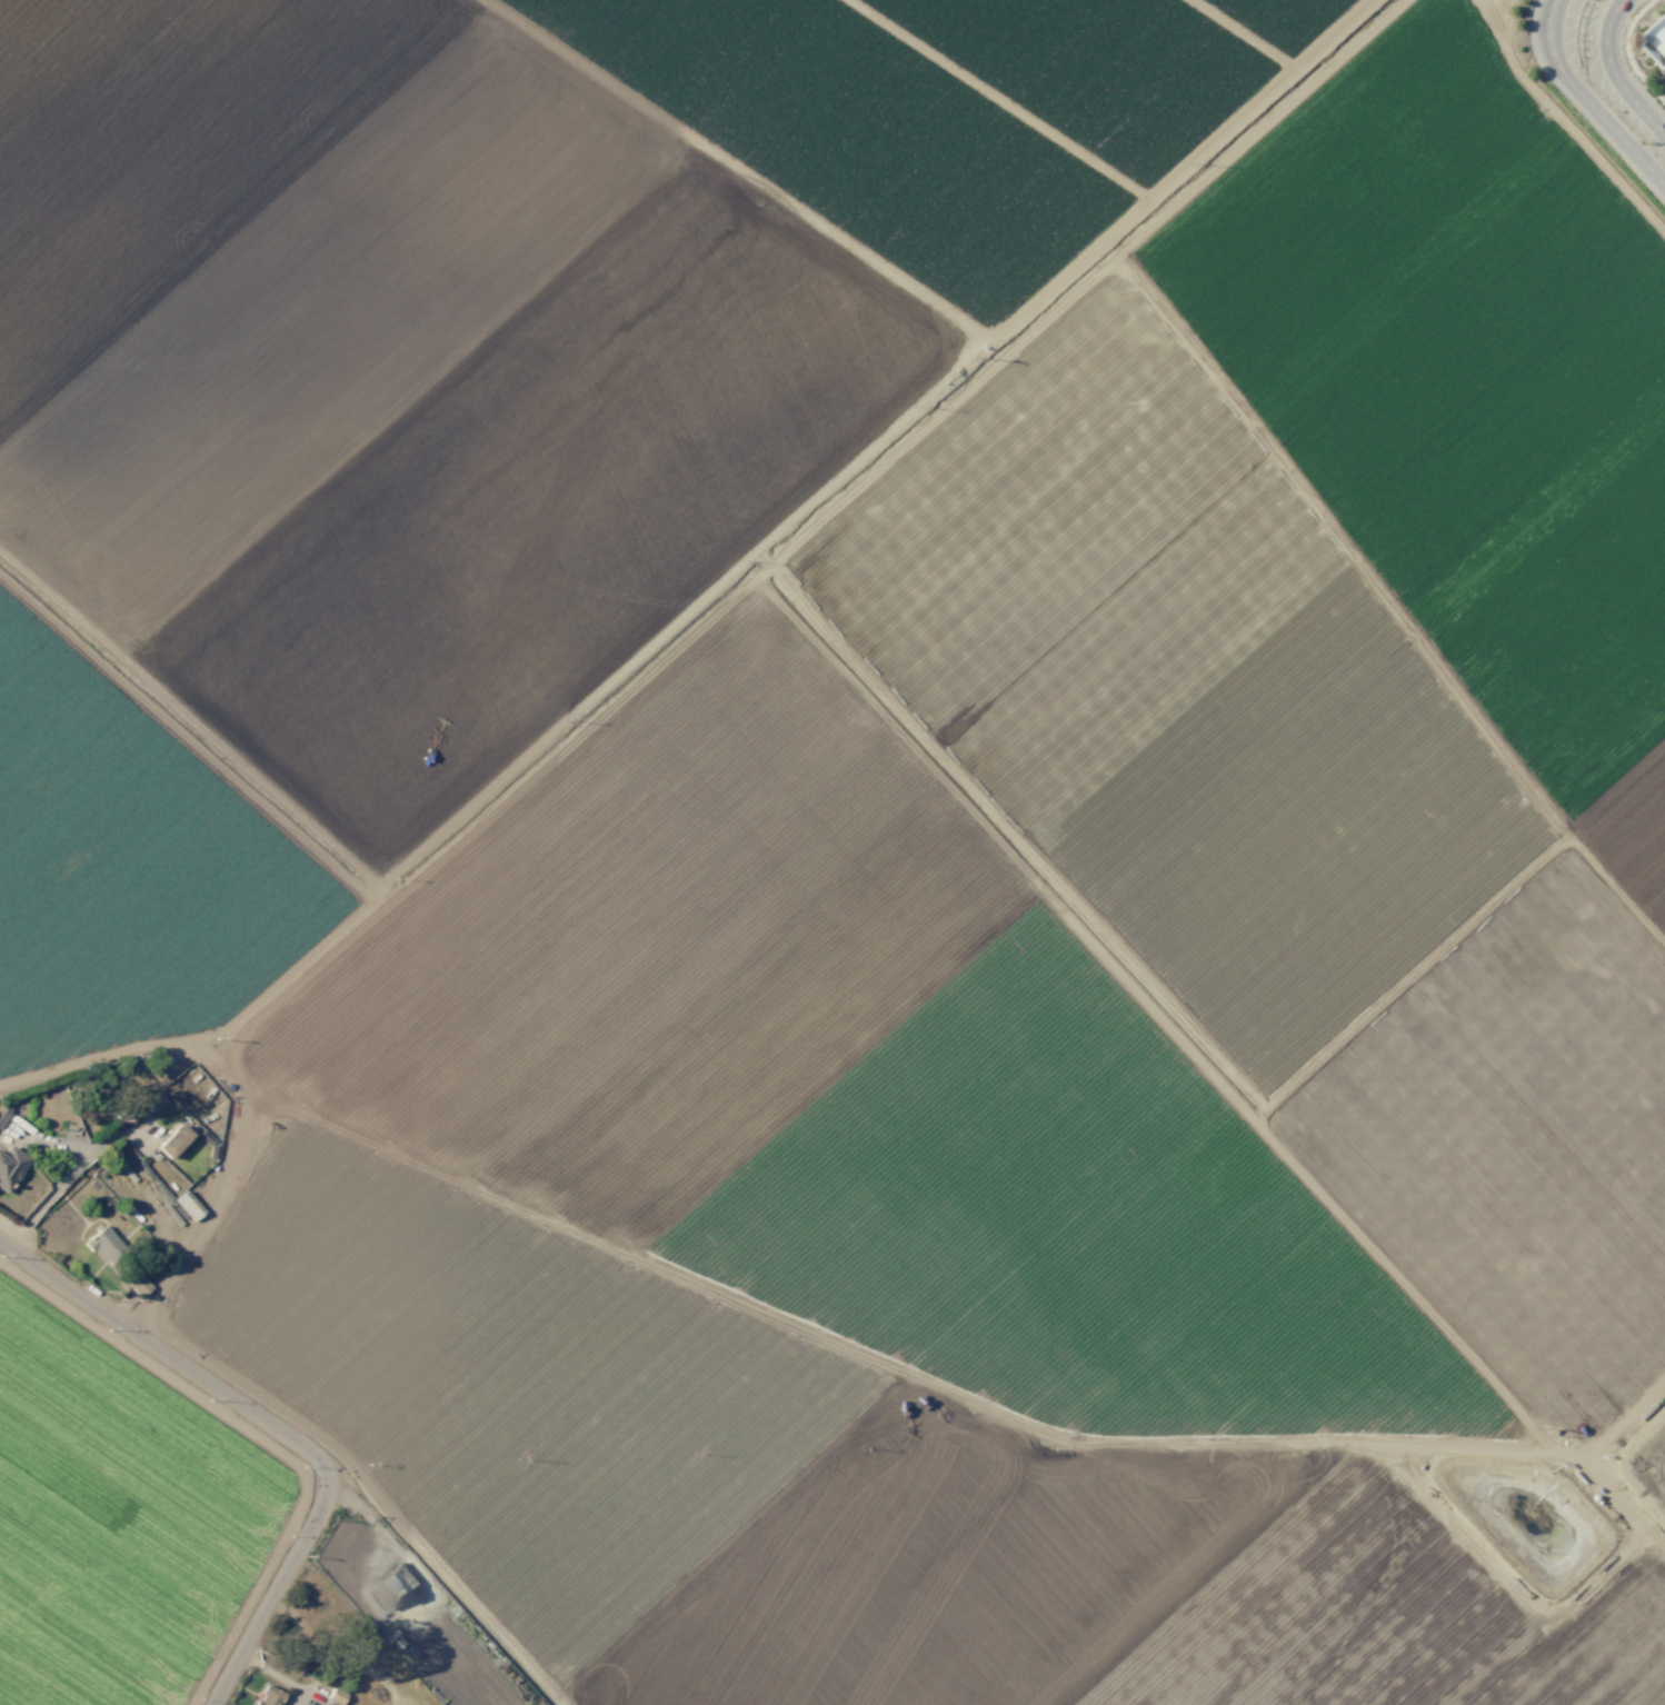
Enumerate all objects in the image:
building: (1656, 37)
road: (1612, 73)
road: (1586, 100)
road: (1563, 126)
road: (726, 598)
crop: (826, 858)
road: (239, 1078)
building: (2, 1115)
building: (173, 1140)
building: (10, 1167)
road: (70, 1169)
building: (188, 1205)
building: (104, 1245)
building: (140, 1286)
road: (832, 1342)
road: (275, 1434)
wastewater plant: (1647, 1458)
wastewater plant: (1526, 1522)
building: (395, 1586)
road: (430, 1595)
building: (269, 1696)
building: (336, 1696)
building: (325, 1704)

